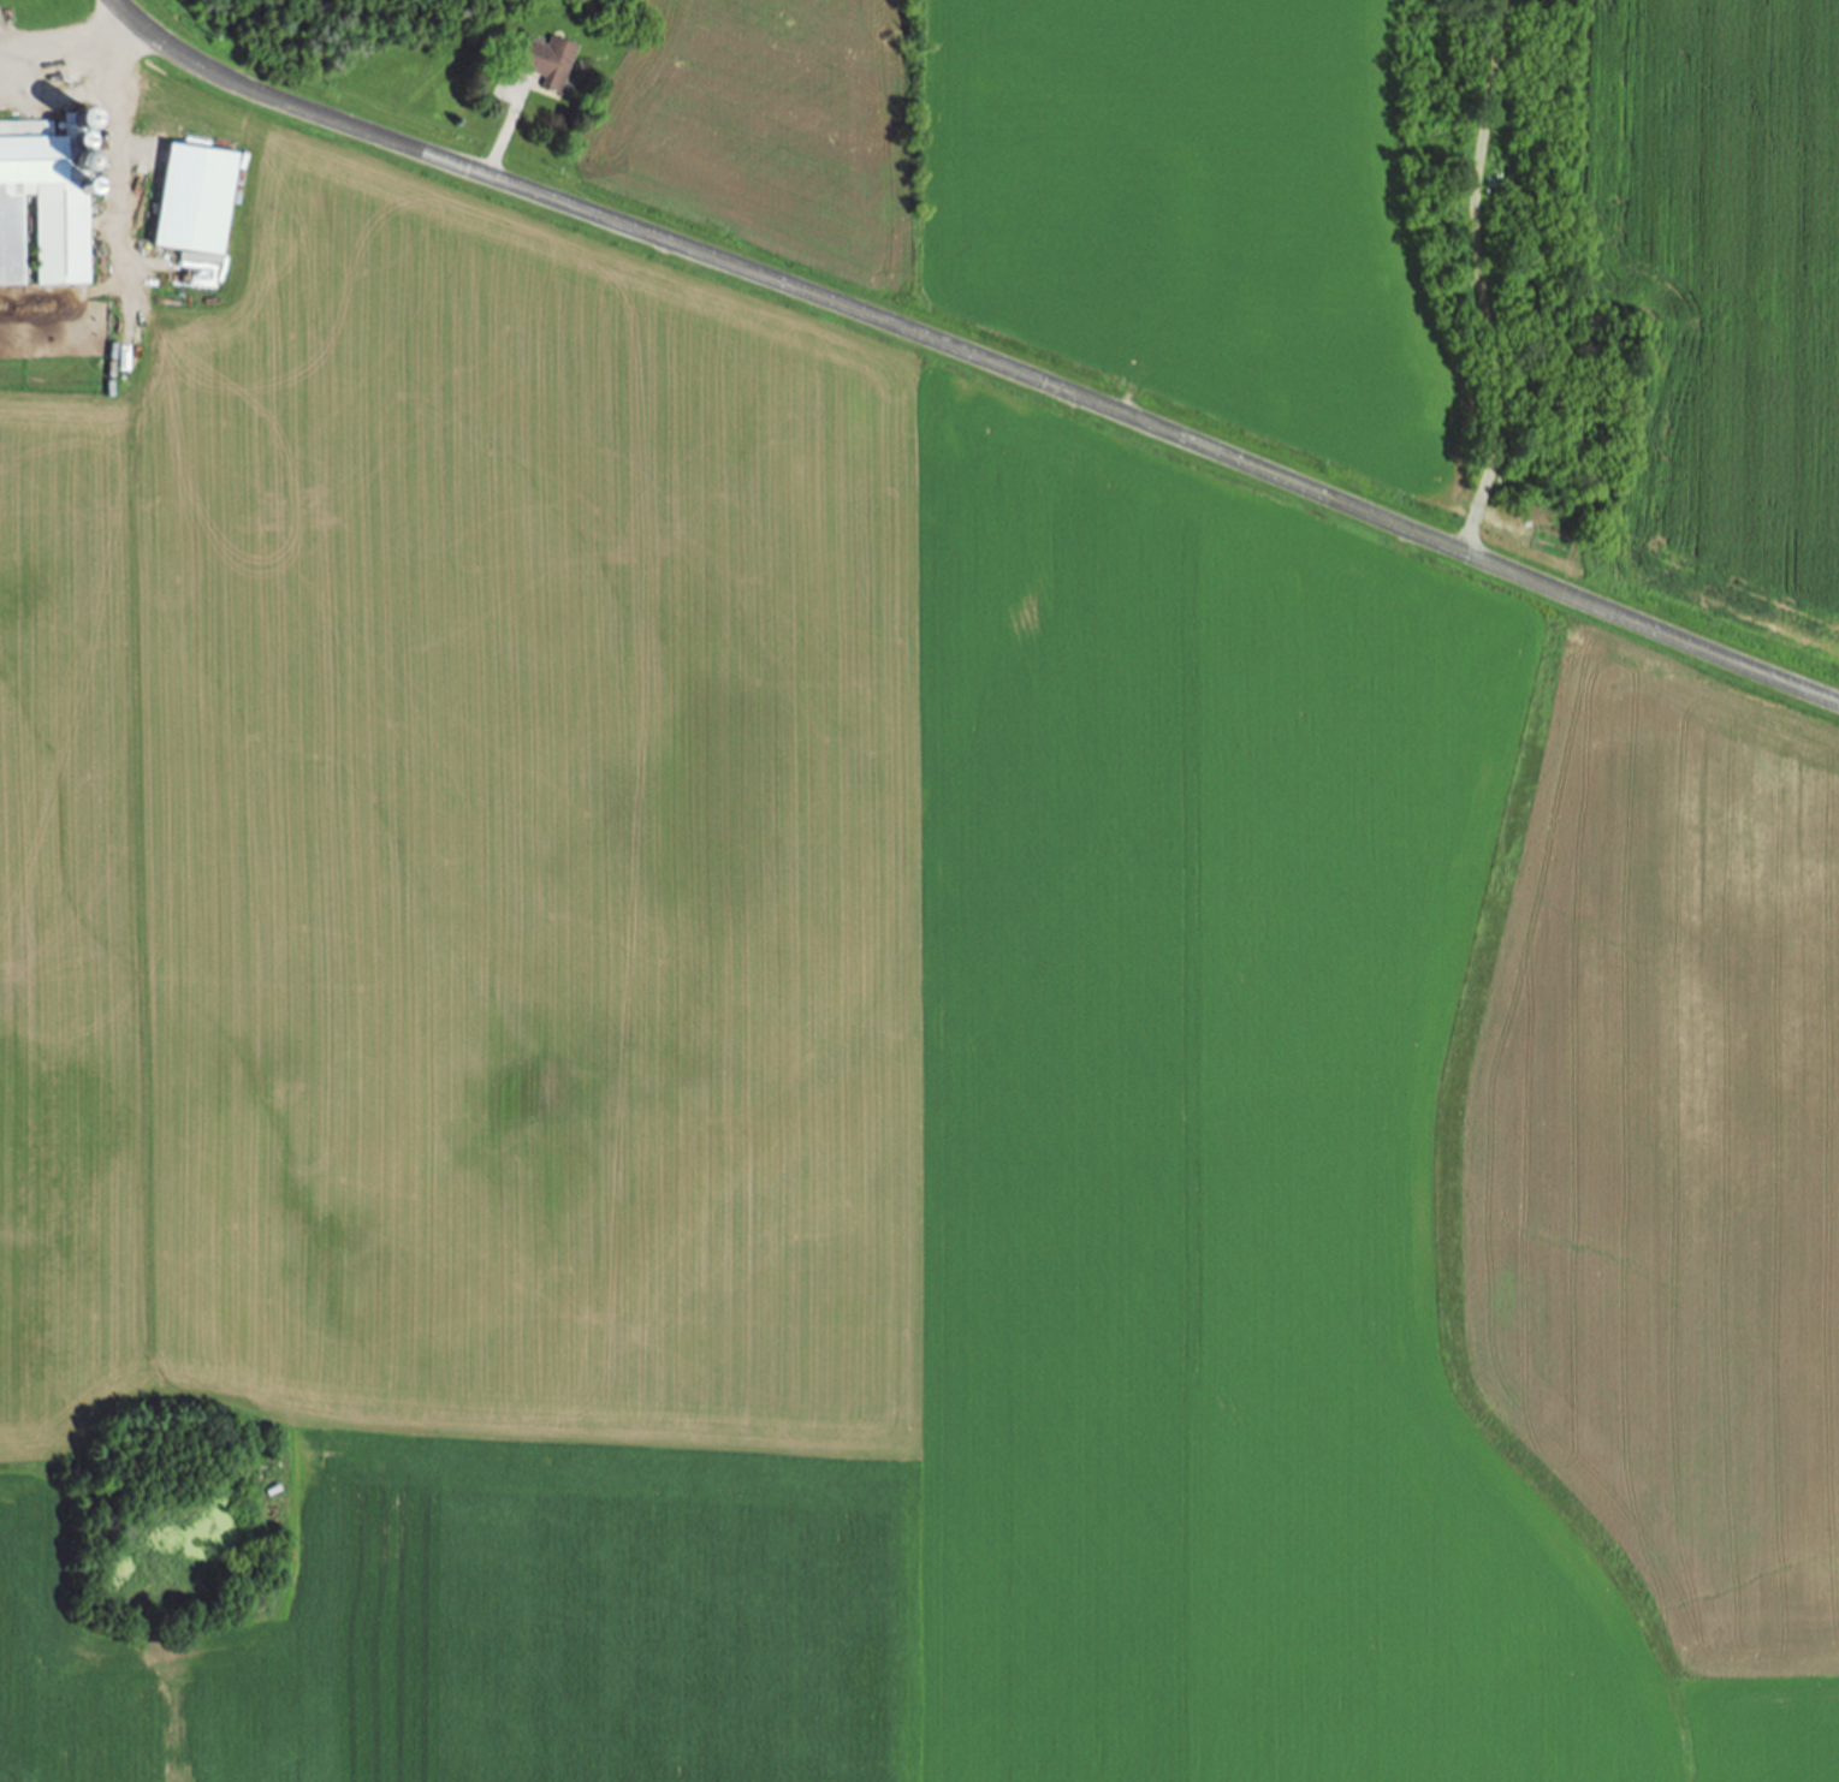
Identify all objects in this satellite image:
road: (57, 35)
building: (545, 64)
road: (79, 94)
road: (498, 136)
building: (49, 197)
building: (195, 202)
road: (1477, 278)
road: (971, 356)

